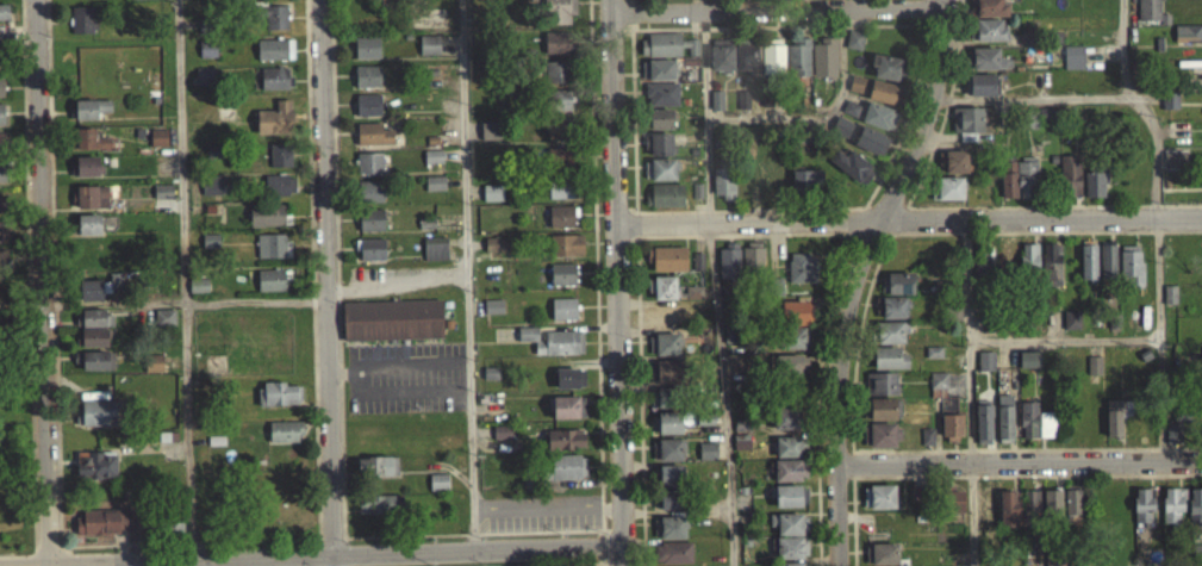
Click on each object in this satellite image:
building: (147, 2)
road: (306, 7)
road: (777, 7)
building: (990, 7)
building: (1150, 8)
road: (23, 14)
building: (558, 17)
building: (2, 20)
road: (331, 23)
building: (272, 24)
building: (80, 27)
building: (989, 29)
building: (1032, 35)
building: (556, 39)
building: (1187, 42)
building: (366, 45)
building: (853, 49)
building: (555, 51)
building: (428, 54)
building: (1075, 55)
building: (366, 56)
building: (668, 56)
building: (206, 57)
building: (986, 57)
building: (720, 64)
building: (771, 64)
building: (745, 67)
building: (797, 67)
building: (822, 67)
building: (1072, 67)
building: (1139, 67)
building: (556, 68)
building: (988, 68)
building: (367, 73)
building: (885, 75)
building: (656, 79)
building: (555, 80)
building: (982, 83)
building: (366, 85)
building: (274, 87)
building: (203, 88)
building: (0, 95)
road: (1032, 97)
building: (559, 98)
building: (871, 98)
building: (1171, 99)
building: (367, 102)
building: (660, 102)
building: (86, 107)
building: (743, 107)
building: (558, 110)
building: (1169, 110)
building: (1048, 112)
building: (367, 113)
road: (824, 114)
building: (89, 117)
building: (848, 117)
building: (1027, 117)
building: (969, 118)
building: (1, 123)
building: (876, 124)
building: (274, 126)
building: (490, 126)
building: (558, 126)
building: (1178, 126)
building: (659, 127)
building: (368, 131)
building: (841, 135)
building: (558, 138)
building: (1176, 138)
building: (1, 141)
building: (490, 142)
building: (372, 143)
road: (462, 145)
building: (156, 147)
building: (89, 149)
building: (870, 149)
building: (0, 153)
building: (432, 154)
building: (659, 154)
building: (559, 155)
building: (1176, 157)
building: (214, 160)
building: (369, 161)
building: (955, 161)
building: (279, 163)
building: (86, 164)
building: (431, 166)
building: (2, 168)
building: (1173, 168)
building: (953, 170)
building: (368, 172)
building: (1071, 173)
building: (851, 174)
building: (1028, 174)
building: (87, 175)
building: (1009, 175)
building: (1097, 176)
building: (661, 178)
building: (434, 180)
building: (2, 181)
building: (560, 185)
building: (948, 187)
building: (369, 188)
building: (492, 188)
building: (805, 189)
building: (434, 192)
building: (723, 192)
building: (278, 193)
building: (1092, 193)
building: (211, 194)
building: (560, 197)
building: (161, 200)
building: (368, 200)
building: (491, 201)
building: (2, 203)
building: (665, 204)
building: (91, 206)
building: (1, 213)
building: (561, 214)
road: (909, 216)
building: (370, 218)
building: (87, 223)
building: (267, 224)
building: (561, 225)
road: (1158, 225)
building: (2, 229)
road: (1046, 229)
building: (107, 232)
road: (735, 232)
building: (87, 234)
building: (2, 241)
building: (436, 243)
building: (566, 243)
building: (372, 247)
road: (776, 247)
building: (493, 253)
building: (272, 254)
building: (565, 254)
building: (2, 256)
building: (369, 257)
building: (434, 257)
building: (668, 257)
building: (754, 259)
building: (1089, 259)
building: (698, 260)
building: (730, 260)
building: (1030, 260)
building: (1109, 260)
building: (1009, 261)
building: (1052, 263)
building: (1133, 263)
building: (803, 266)
building: (984, 266)
building: (562, 272)
road: (326, 275)
road: (854, 275)
road: (873, 275)
road: (185, 278)
road: (42, 280)
building: (776, 281)
building: (898, 281)
building: (561, 282)
road: (618, 282)
road: (637, 282)
road: (715, 282)
building: (946, 284)
building: (665, 287)
building: (273, 288)
building: (696, 291)
building: (898, 292)
building: (1171, 292)
building: (197, 294)
building: (776, 296)
building: (95, 297)
building: (692, 300)
building: (562, 305)
building: (892, 305)
road: (256, 310)
building: (796, 311)
building: (492, 315)
building: (664, 315)
building: (562, 317)
building: (892, 317)
building: (1072, 317)
building: (1111, 318)
building: (163, 325)
building: (93, 326)
building: (391, 329)
building: (1071, 329)
building: (890, 330)
building: (733, 331)
building: (791, 337)
road: (1065, 337)
building: (527, 343)
building: (665, 343)
building: (93, 346)
building: (935, 349)
road: (465, 350)
building: (562, 350)
building: (889, 356)
building: (1029, 357)
building: (988, 359)
building: (1095, 362)
road: (397, 363)
building: (789, 363)
building: (889, 367)
building: (1027, 368)
building: (95, 369)
building: (985, 369)
building: (672, 371)
building: (733, 371)
building: (152, 372)
building: (1092, 374)
building: (786, 375)
building: (940, 378)
building: (664, 380)
road: (818, 380)
building: (882, 382)
building: (568, 387)
road: (400, 391)
road: (970, 391)
building: (667, 396)
building: (279, 403)
building: (565, 406)
building: (883, 408)
building: (1183, 409)
building: (1117, 413)
building: (706, 417)
building: (789, 417)
building: (952, 417)
building: (1007, 417)
building: (1036, 418)
building: (985, 419)
building: (96, 422)
building: (667, 422)
building: (743, 423)
building: (785, 428)
building: (1175, 430)
building: (882, 434)
building: (929, 434)
building: (284, 440)
building: (742, 440)
building: (500, 442)
building: (926, 444)
building: (790, 446)
road: (1027, 446)
building: (563, 448)
building: (709, 448)
building: (669, 449)
building: (787, 455)
building: (706, 460)
road: (1017, 460)
building: (789, 469)
road: (1027, 472)
building: (94, 473)
building: (668, 474)
building: (375, 475)
building: (562, 477)
building: (437, 491)
building: (790, 495)
building: (882, 497)
building: (952, 497)
building: (1053, 497)
building: (671, 499)
building: (1072, 502)
building: (1175, 502)
building: (988, 503)
building: (1145, 503)
building: (1010, 504)
building: (1196, 506)
building: (952, 510)
building: (1032, 511)
building: (375, 514)
building: (1051, 514)
road: (546, 516)
building: (790, 523)
building: (671, 527)
building: (99, 530)
building: (174, 534)
building: (791, 547)
building: (883, 548)
building: (674, 552)
building: (1198, 552)
road: (312, 553)
building: (1078, 558)
road: (334, 559)
building: (1055, 559)
building: (791, 564)
building: (885, 564)

